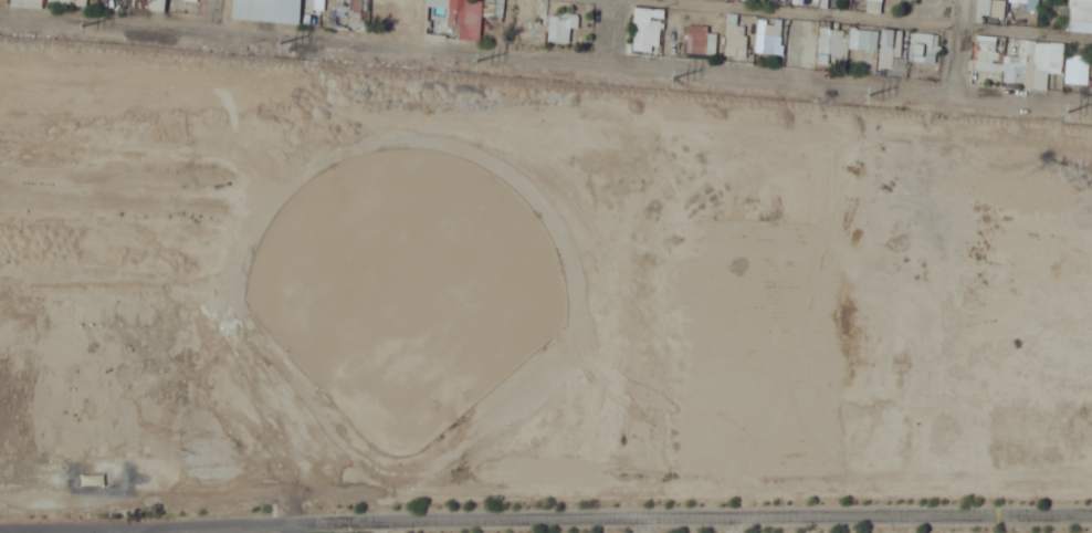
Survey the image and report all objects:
road: (954, 44)

